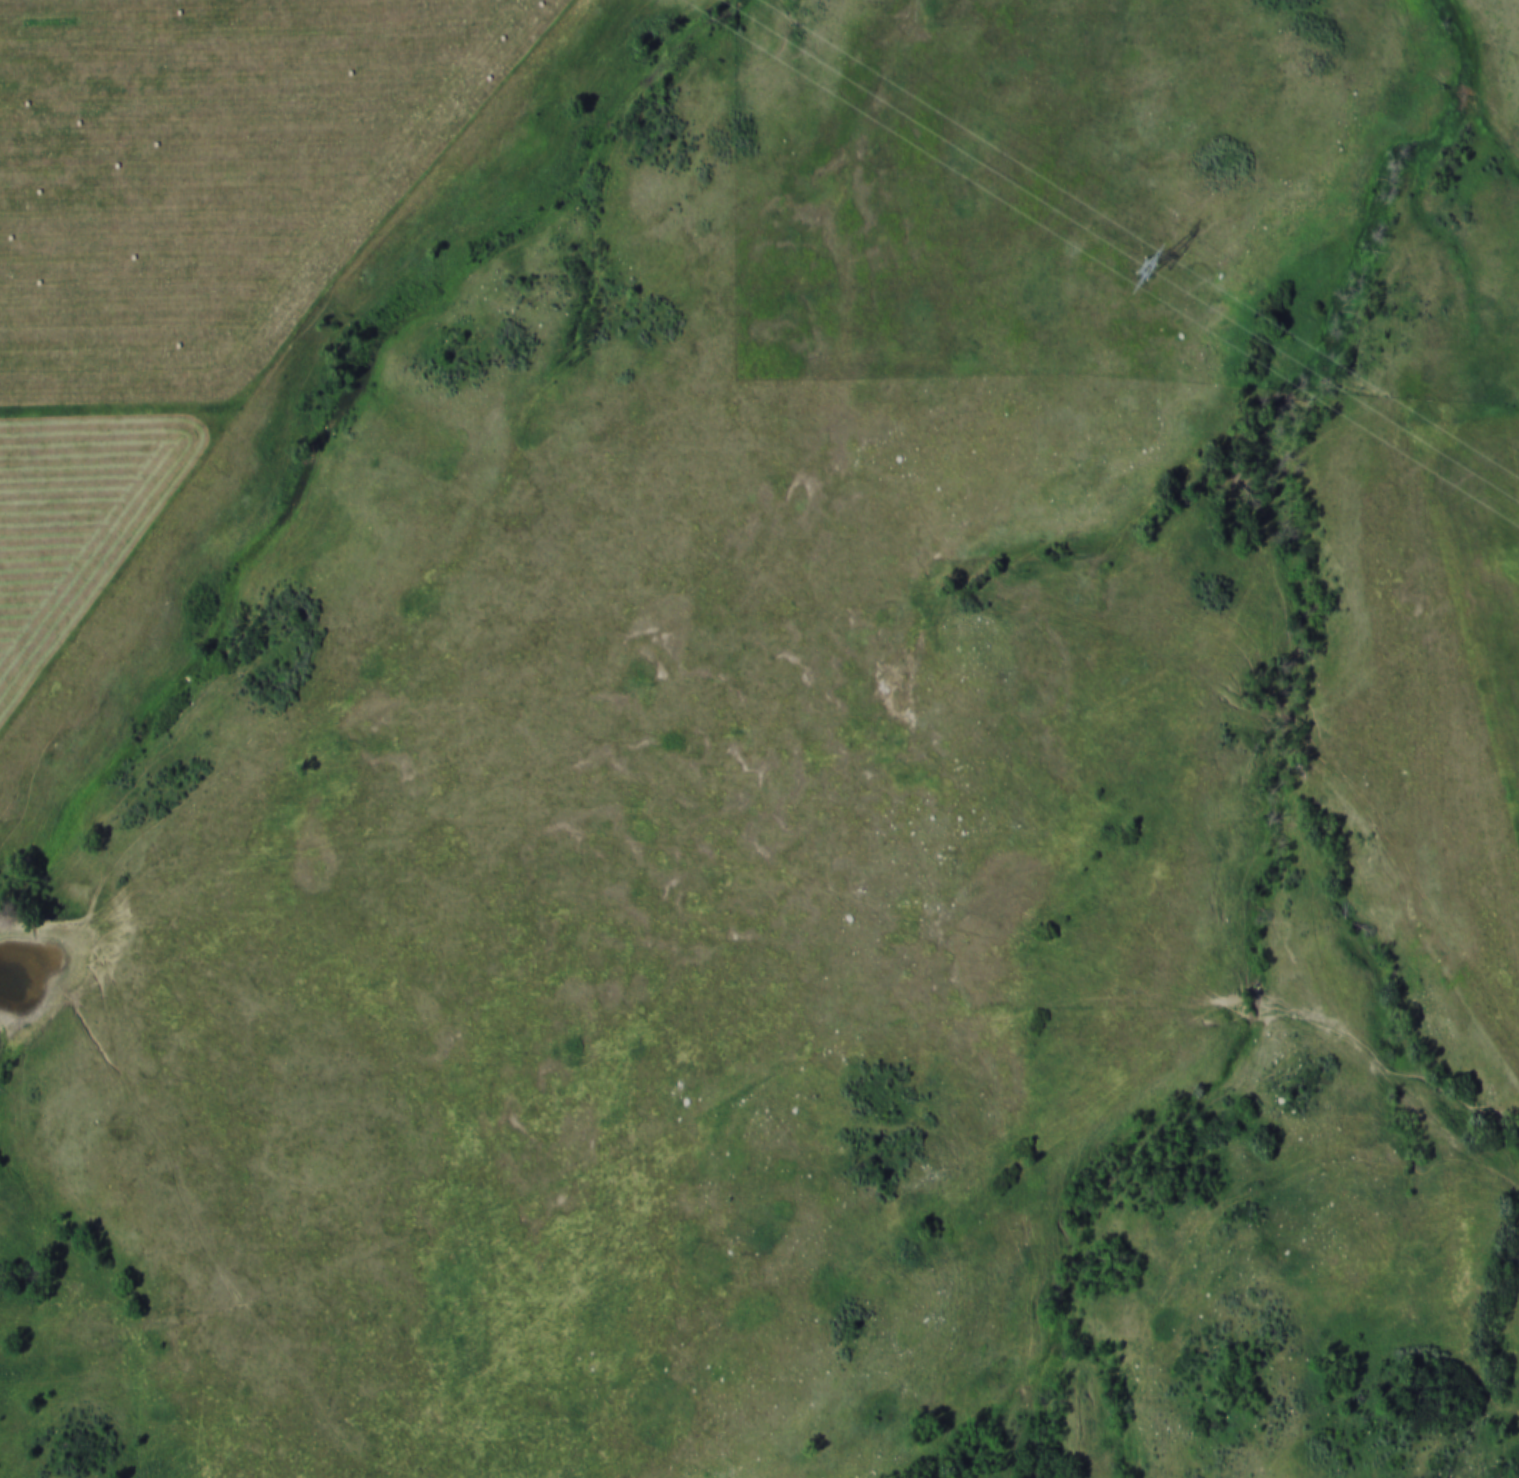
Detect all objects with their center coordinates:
power tower: (1134, 263)

